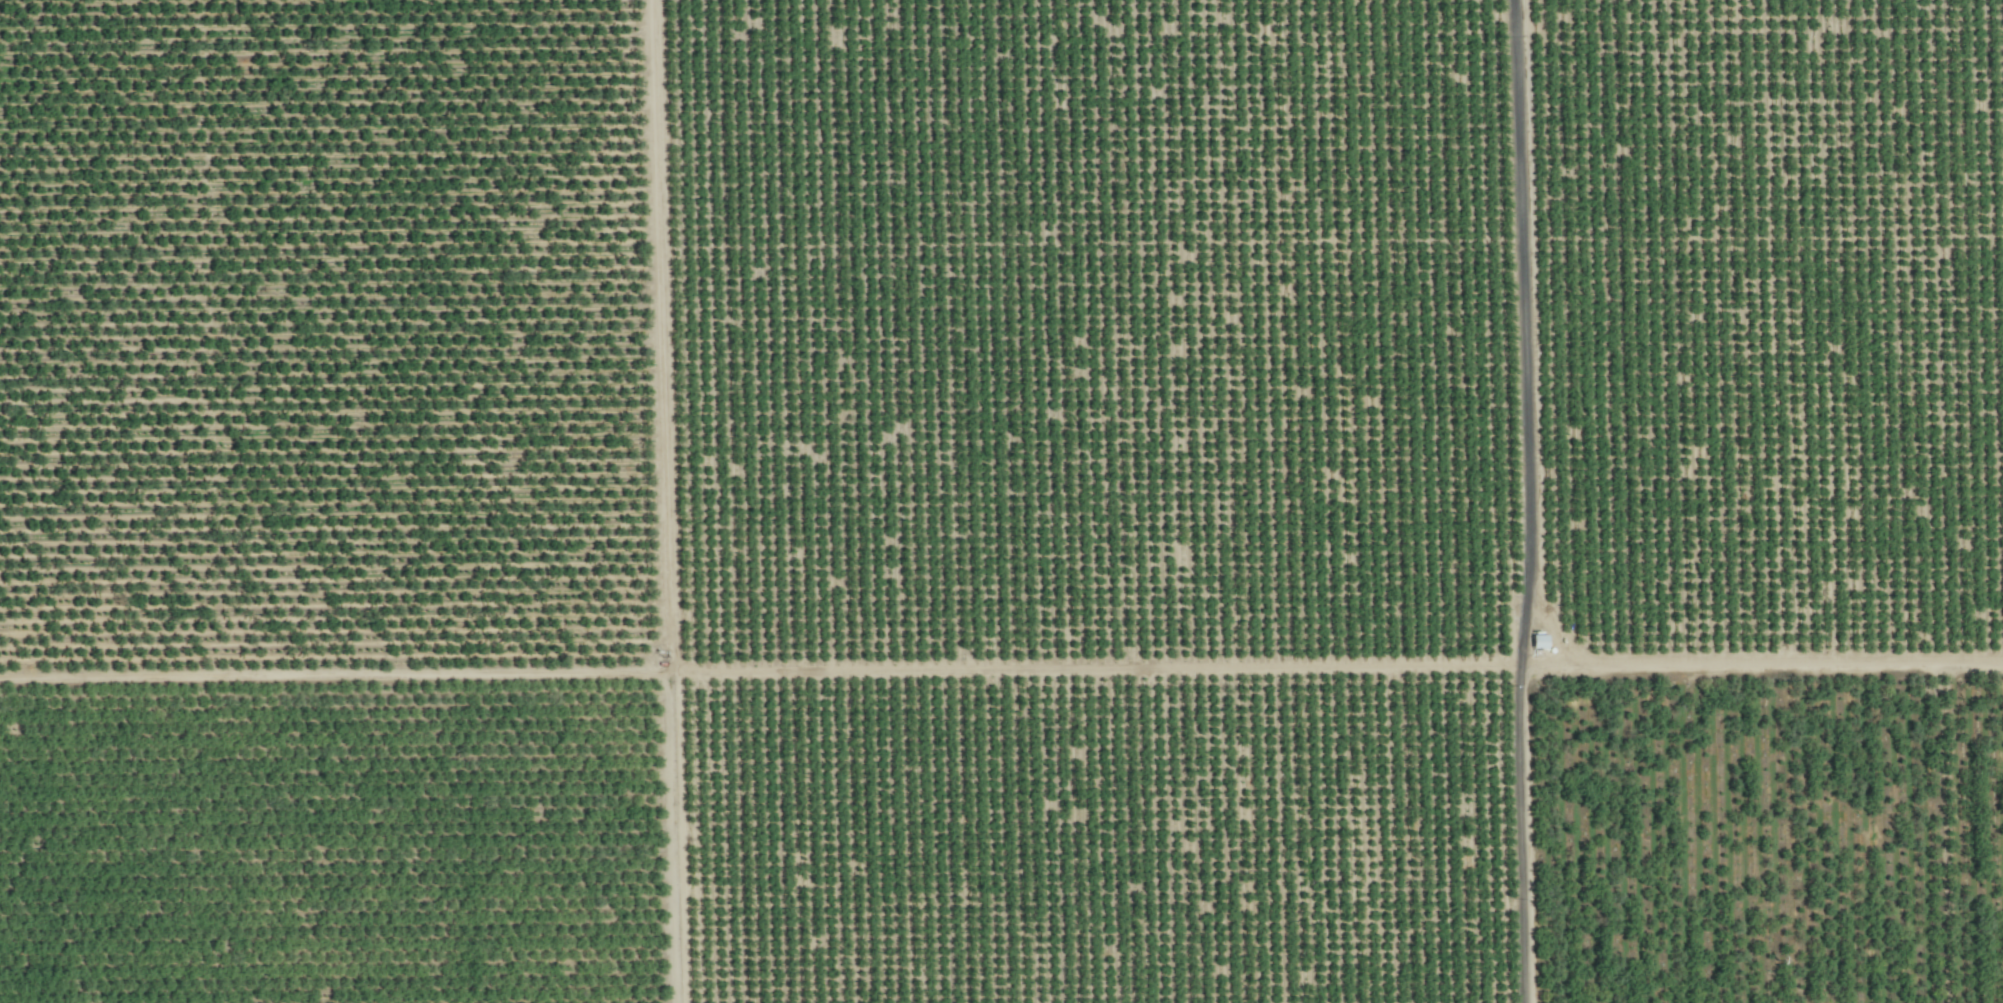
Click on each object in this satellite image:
road: (1523, 333)
building: (1535, 644)
road: (1014, 669)
road: (1514, 834)

